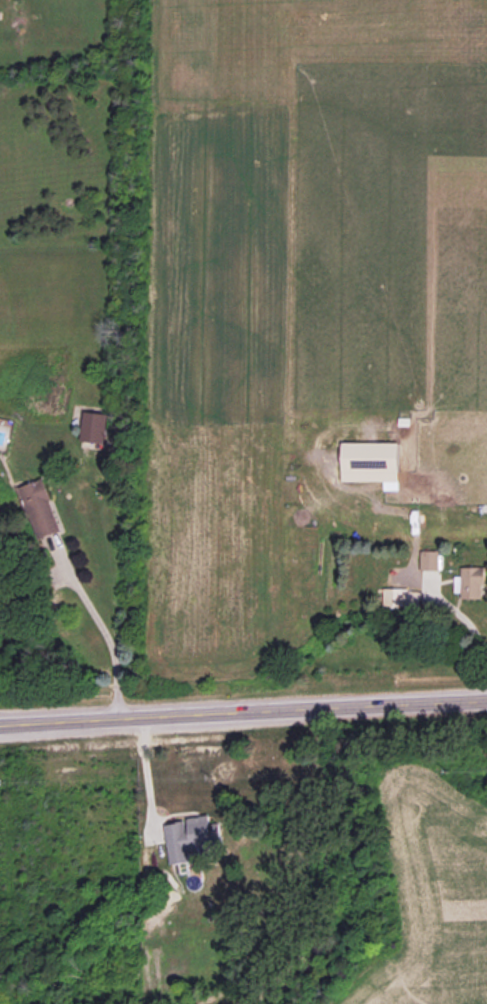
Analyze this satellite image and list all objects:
building: (94, 426)
building: (372, 462)
building: (40, 508)
building: (430, 560)
building: (473, 582)
building: (403, 597)
road: (465, 619)
road: (102, 631)
road: (243, 709)
road: (147, 772)
building: (193, 837)

